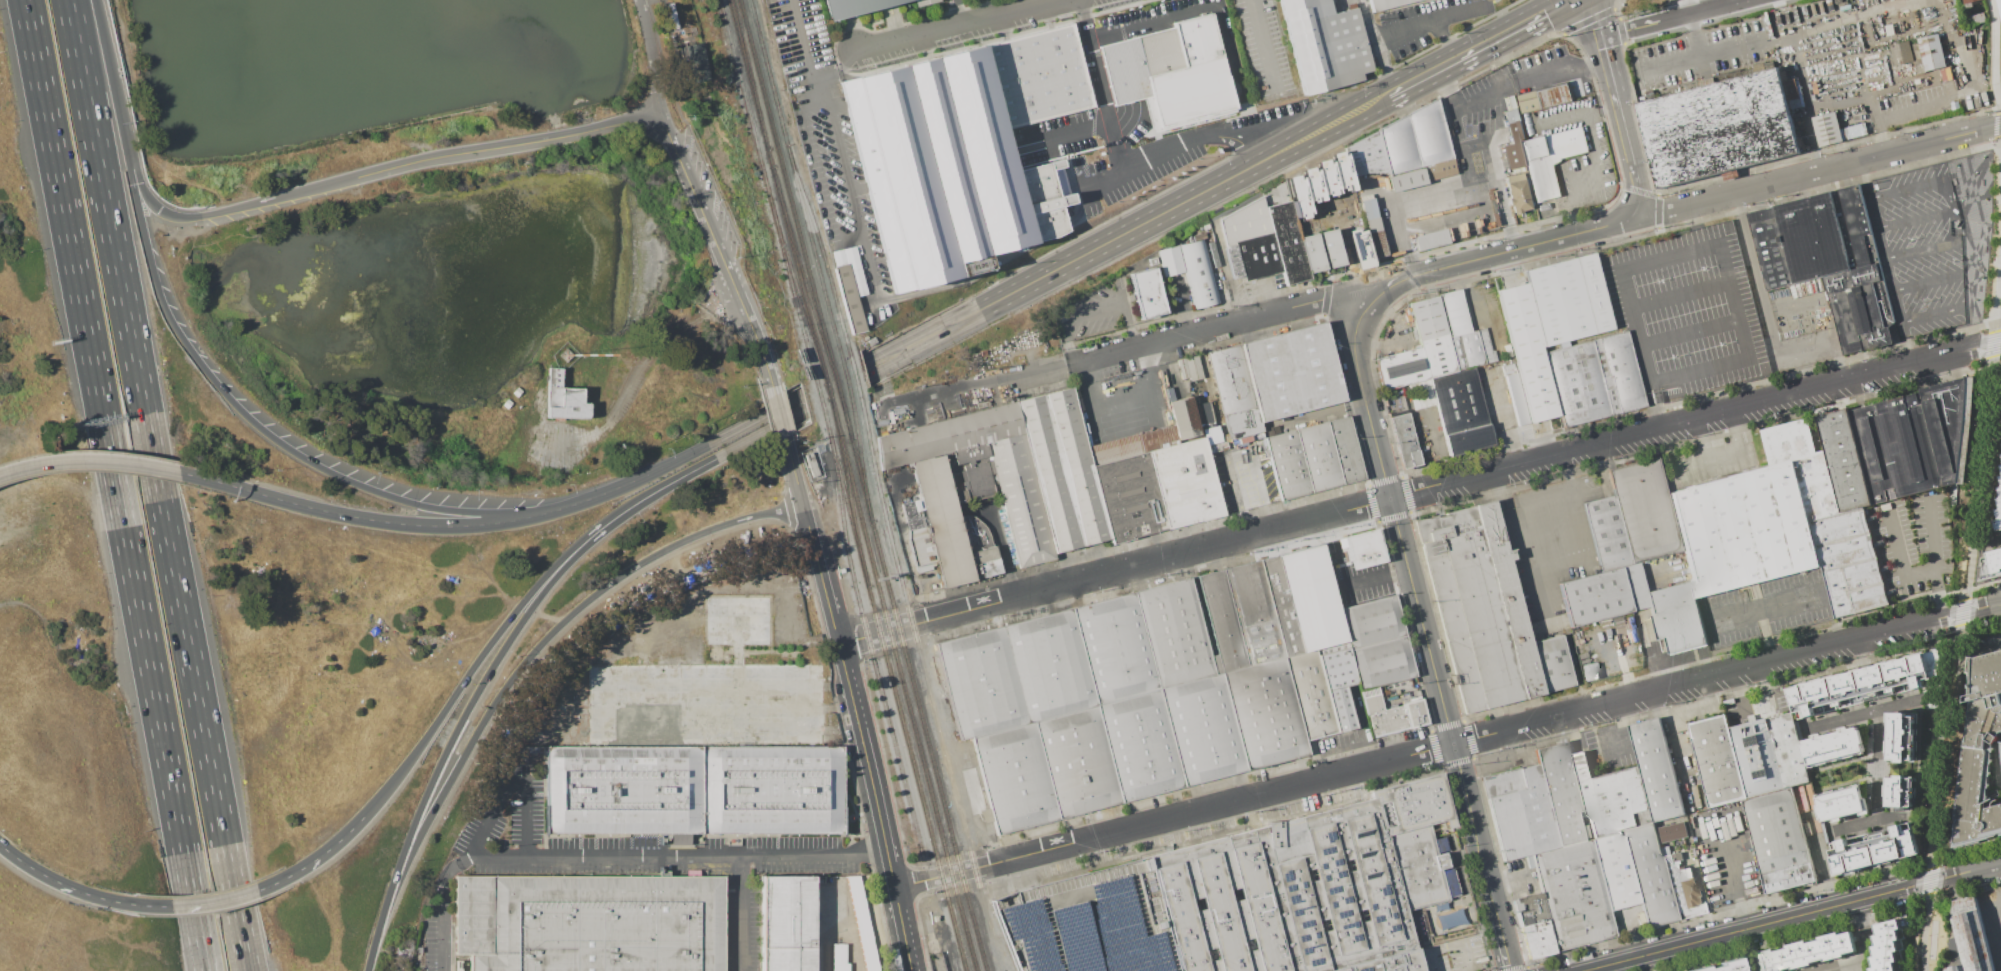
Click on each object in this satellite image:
road: (1343, 0)
building: (1966, 1)
building: (923, 2)
building: (1391, 5)
building: (1999, 6)
road: (1200, 8)
road: (1705, 8)
building: (858, 9)
road: (1459, 12)
road: (954, 13)
road: (1008, 13)
road: (1596, 18)
building: (1974, 18)
road: (1409, 27)
road: (1635, 27)
road: (1512, 30)
road: (1694, 34)
road: (909, 38)
building: (1197, 40)
road: (1442, 40)
building: (1326, 44)
road: (1264, 45)
road: (1604, 48)
building: (1900, 51)
building: (1160, 52)
building: (1927, 53)
road: (1703, 55)
road: (651, 56)
railway: (742, 57)
railway: (745, 57)
parking lot: (1700, 57)
building: (697, 63)
road: (1447, 64)
road: (841, 70)
building: (1125, 71)
road: (1547, 72)
building: (1038, 76)
road: (1611, 76)
road: (1993, 77)
park: (383, 80)
road: (1102, 84)
road: (1408, 84)
road: (1446, 87)
road: (41, 89)
building: (1189, 92)
road: (1804, 94)
building: (1543, 97)
road: (1470, 100)
road: (1924, 104)
road: (1601, 111)
railway: (767, 116)
parking lot: (1489, 125)
road: (1456, 127)
building: (1717, 128)
building: (1826, 129)
road: (1072, 130)
building: (1853, 131)
road: (1212, 132)
road: (1495, 132)
road: (1310, 134)
building: (1512, 135)
road: (1625, 136)
road: (1963, 144)
road: (508, 145)
road: (1231, 145)
building: (1404, 149)
road: (1978, 150)
road: (1592, 151)
railway: (767, 152)
road: (836, 152)
parking lot: (1591, 156)
building: (1548, 159)
road: (1466, 164)
building: (945, 171)
road: (1818, 171)
railway: (794, 179)
building: (1318, 182)
railway: (765, 185)
road: (1444, 186)
road: (690, 188)
road: (1901, 189)
building: (1516, 193)
road: (1947, 193)
road: (1638, 195)
road: (1500, 196)
road: (152, 204)
road: (1915, 219)
building: (1372, 227)
road: (1112, 238)
road: (1403, 238)
building: (1430, 239)
building: (1248, 241)
road: (1880, 241)
building: (1287, 242)
road: (1345, 242)
road: (1718, 244)
road: (1527, 246)
building: (1330, 247)
building: (1359, 247)
railway: (820, 248)
parking lot: (1918, 248)
road: (1921, 248)
building: (1311, 252)
building: (1827, 260)
building: (1190, 269)
road: (1756, 273)
railway: (802, 277)
road: (1408, 278)
railway: (799, 279)
road: (1365, 282)
road: (1927, 283)
railway: (791, 286)
road: (1383, 290)
building: (1146, 293)
road: (1267, 295)
road: (1678, 295)
railway: (814, 298)
building: (849, 298)
building: (1567, 299)
road: (1233, 301)
road: (1348, 304)
road: (1185, 305)
road: (1996, 305)
road: (992, 306)
road: (1097, 307)
road: (1363, 309)
parking lot: (1095, 311)
parking lot: (1685, 311)
building: (1454, 312)
road: (1258, 315)
road: (1932, 315)
road: (749, 323)
road: (1689, 335)
road: (1975, 335)
building: (1432, 336)
road: (1824, 342)
road: (1905, 343)
road: (1896, 345)
building: (1484, 346)
road: (1125, 349)
building: (1465, 350)
building: (1526, 350)
road: (1355, 361)
building: (1189, 368)
building: (1401, 368)
road: (841, 372)
road: (639, 373)
railway: (833, 376)
railway: (853, 376)
railway: (834, 377)
building: (1273, 377)
building: (1594, 378)
railway: (845, 380)
road: (849, 387)
railway: (827, 389)
road: (977, 389)
building: (516, 391)
road: (1656, 393)
railway: (818, 394)
building: (1514, 394)
road: (1647, 396)
railway: (839, 398)
building: (565, 399)
road: (231, 401)
building: (506, 403)
building: (1460, 411)
railway: (833, 413)
road: (778, 414)
road: (1657, 417)
road: (1502, 418)
building: (1211, 434)
building: (1910, 439)
building: (1404, 440)
parking lot: (560, 444)
road: (1726, 455)
building: (1313, 457)
building: (1842, 459)
road: (105, 461)
railway: (860, 461)
road: (669, 462)
building: (1801, 463)
building: (810, 464)
parking lot: (1242, 472)
road: (1461, 476)
building: (2000, 478)
building: (1045, 482)
road: (158, 485)
building: (2000, 491)
road: (1252, 494)
railway: (845, 501)
railway: (851, 501)
building: (1643, 510)
road: (1517, 515)
building: (1999, 515)
road: (420, 525)
building: (1743, 528)
road: (1552, 530)
building: (1607, 533)
road: (1997, 541)
building: (1362, 548)
road: (1930, 557)
road: (1897, 558)
road: (1560, 560)
building: (1848, 560)
building: (1995, 561)
road: (131, 574)
road: (1376, 577)
parking lot: (1362, 583)
building: (1602, 595)
road: (1762, 606)
building: (1478, 607)
road: (513, 612)
building: (1675, 618)
road: (881, 632)
road: (1764, 634)
railway: (867, 642)
road: (1859, 654)
road: (1958, 658)
road: (1433, 661)
building: (1551, 662)
road: (516, 671)
building: (1589, 671)
railway: (923, 672)
road: (486, 674)
building: (1864, 684)
road: (1866, 684)
building: (1171, 686)
railway: (912, 688)
railway: (904, 693)
road: (853, 705)
road: (1486, 735)
building: (1900, 736)
road: (1624, 739)
building: (1832, 746)
building: (1787, 750)
building: (1980, 757)
building: (1756, 758)
building: (1715, 760)
road: (1876, 763)
building: (1655, 768)
railway: (915, 778)
building: (690, 788)
building: (1561, 791)
building: (1899, 792)
building: (1610, 797)
building: (1840, 801)
building: (1519, 811)
building: (1671, 831)
building: (1778, 840)
road: (478, 841)
road: (1882, 845)
building: (1873, 847)
building: (1663, 849)
road: (327, 850)
road: (675, 854)
building: (1613, 870)
road: (1966, 872)
building: (1649, 873)
road: (1890, 875)
road: (933, 877)
road: (62, 884)
building: (1673, 887)
building: (1685, 887)
road: (1734, 890)
building: (1571, 893)
building: (1254, 895)
road: (213, 901)
building: (1529, 908)
road: (741, 912)
road: (1995, 917)
building: (589, 923)
building: (786, 923)
parking lot: (1989, 923)
building: (862, 924)
road: (1757, 925)
road: (1867, 934)
road: (1626, 936)
building: (1537, 939)
building: (1969, 939)
park: (1932, 941)
road: (1450, 943)
road: (1506, 945)
building: (1882, 945)
building: (1803, 951)
building: (838, 958)
building: (1719, 966)
road: (1844, 966)

